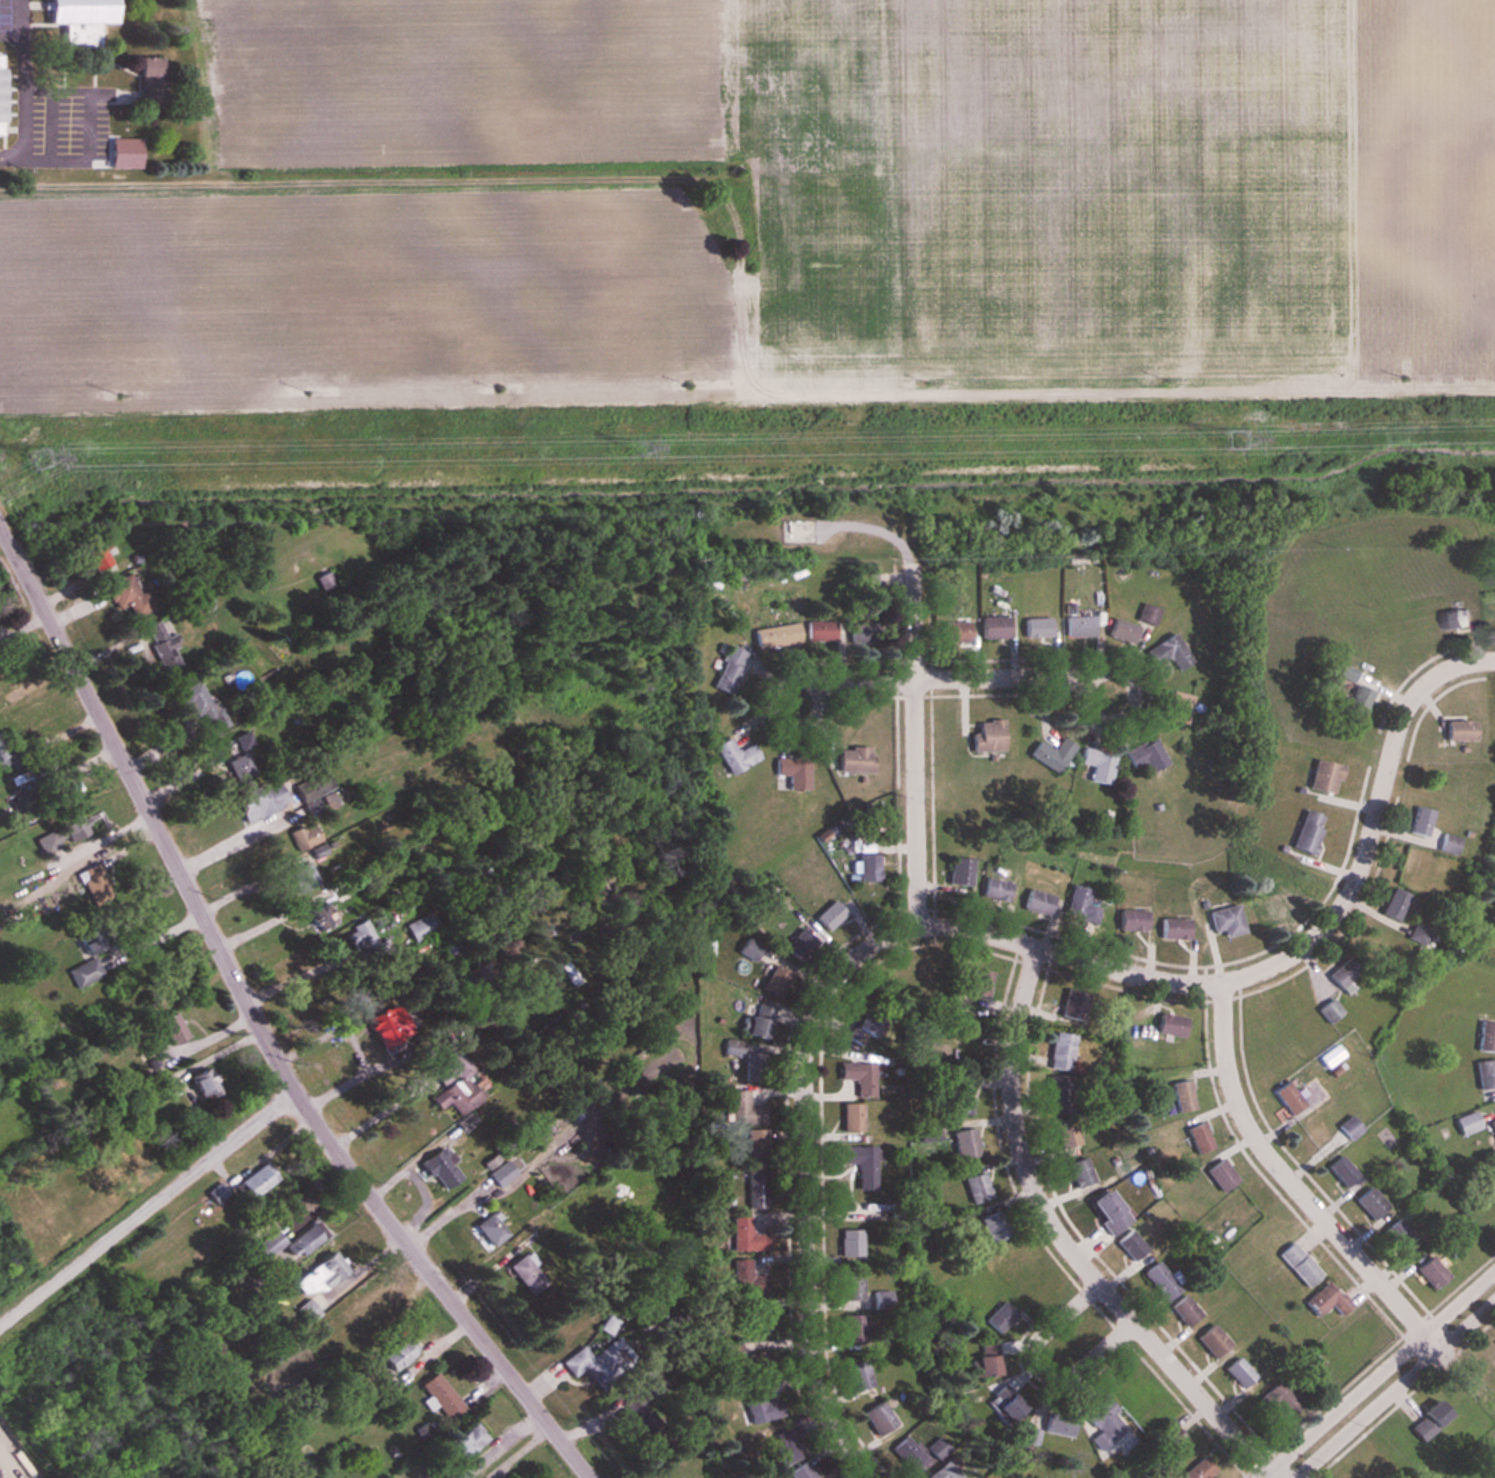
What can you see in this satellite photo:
building: (78, 22)
building: (147, 78)
building: (0, 87)
road: (85, 95)
road: (9, 156)
building: (120, 158)
road: (381, 191)
power tower: (1227, 440)
power tower: (634, 449)
power tower: (40, 458)
building: (96, 558)
building: (865, 578)
building: (324, 579)
building: (124, 594)
building: (1490, 612)
building: (1146, 613)
building: (1453, 618)
building: (1077, 626)
building: (993, 627)
building: (1036, 627)
building: (820, 630)
building: (953, 631)
building: (1121, 631)
building: (857, 633)
building: (776, 636)
building: (159, 644)
building: (1168, 652)
building: (728, 670)
road: (952, 679)
building: (1356, 701)
building: (200, 705)
building: (1177, 709)
building: (1458, 730)
building: (986, 736)
road: (915, 745)
building: (1050, 754)
building: (1144, 755)
building: (734, 756)
building: (4, 758)
building: (851, 760)
building: (239, 762)
building: (1096, 766)
building: (791, 773)
building: (1322, 776)
building: (261, 800)
building: (1419, 822)
building: (1306, 831)
building: (59, 833)
building: (304, 836)
road: (234, 838)
building: (826, 838)
building: (866, 868)
building: (958, 872)
building: (301, 878)
building: (994, 889)
building: (1036, 902)
building: (1392, 904)
building: (1078, 905)
building: (1266, 911)
building: (827, 916)
building: (322, 918)
building: (1130, 920)
building: (1224, 921)
road: (268, 923)
building: (422, 927)
building: (1172, 929)
building: (358, 939)
building: (797, 946)
road: (1290, 955)
building: (1494, 960)
building: (1342, 971)
building: (79, 974)
building: (775, 981)
building: (977, 983)
building: (1071, 1007)
building: (1328, 1010)
building: (757, 1020)
road: (260, 1022)
building: (380, 1024)
building: (1169, 1025)
building: (165, 1027)
building: (1485, 1036)
building: (737, 1049)
building: (1060, 1051)
building: (1484, 1073)
building: (858, 1077)
building: (202, 1081)
building: (453, 1085)
building: (1056, 1089)
building: (1181, 1096)
building: (957, 1097)
building: (1286, 1097)
building: (741, 1109)
road: (376, 1116)
building: (850, 1118)
building: (1467, 1123)
building: (1492, 1125)
building: (926, 1133)
building: (1065, 1133)
building: (1311, 1135)
building: (1197, 1137)
building: (755, 1142)
building: (963, 1143)
building: (860, 1165)
building: (517, 1166)
building: (1341, 1170)
building: (1078, 1172)
building: (1219, 1174)
building: (256, 1180)
road: (1290, 1181)
road: (806, 1183)
building: (976, 1188)
building: (753, 1190)
building: (1369, 1203)
road: (148, 1209)
building: (1106, 1212)
building: (992, 1226)
building: (488, 1228)
building: (1397, 1234)
building: (744, 1236)
building: (850, 1243)
road: (1066, 1243)
building: (1130, 1244)
building: (270, 1246)
building: (1298, 1264)
building: (1429, 1272)
building: (525, 1273)
building: (745, 1278)
building: (317, 1281)
building: (1159, 1281)
building: (851, 1286)
building: (1325, 1300)
building: (1182, 1311)
building: (370, 1316)
building: (998, 1318)
building: (756, 1321)
building: (853, 1328)
building: (1211, 1341)
building: (1494, 1343)
building: (731, 1352)
building: (395, 1354)
building: (596, 1361)
building: (984, 1365)
road: (1041, 1369)
building: (1238, 1373)
building: (857, 1377)
road: (1389, 1383)
building: (438, 1396)
building: (1279, 1398)
building: (754, 1405)
building: (1006, 1408)
building: (877, 1418)
building: (1426, 1421)
building: (1101, 1422)
building: (1056, 1427)
building: (466, 1440)
building: (781, 1455)
building: (912, 1457)
building: (1197, 1470)
building: (798, 1471)
building: (943, 1472)
building: (455, 1473)
building: (1165, 1475)
building: (1342, 1477)

